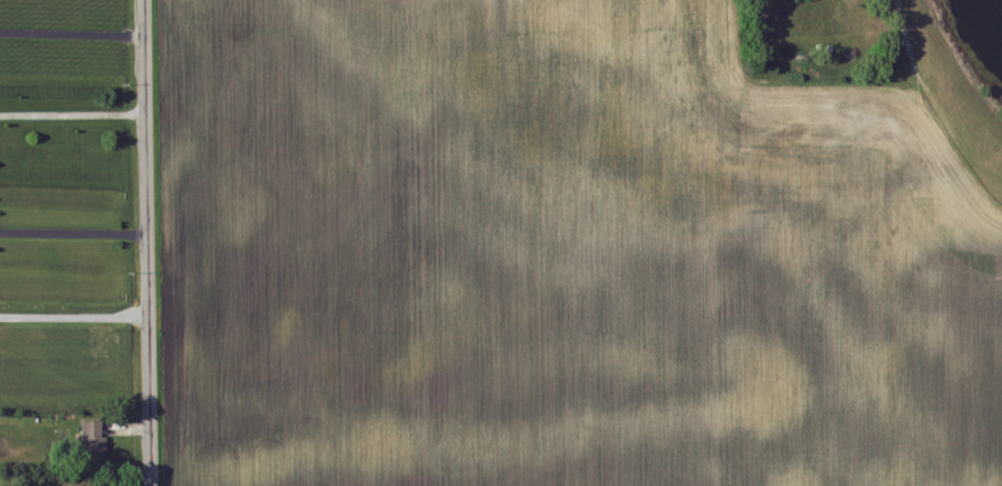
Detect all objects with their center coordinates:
road: (72, 34)
road: (72, 115)
road: (73, 234)
road: (147, 243)
road: (74, 317)
building: (95, 438)

